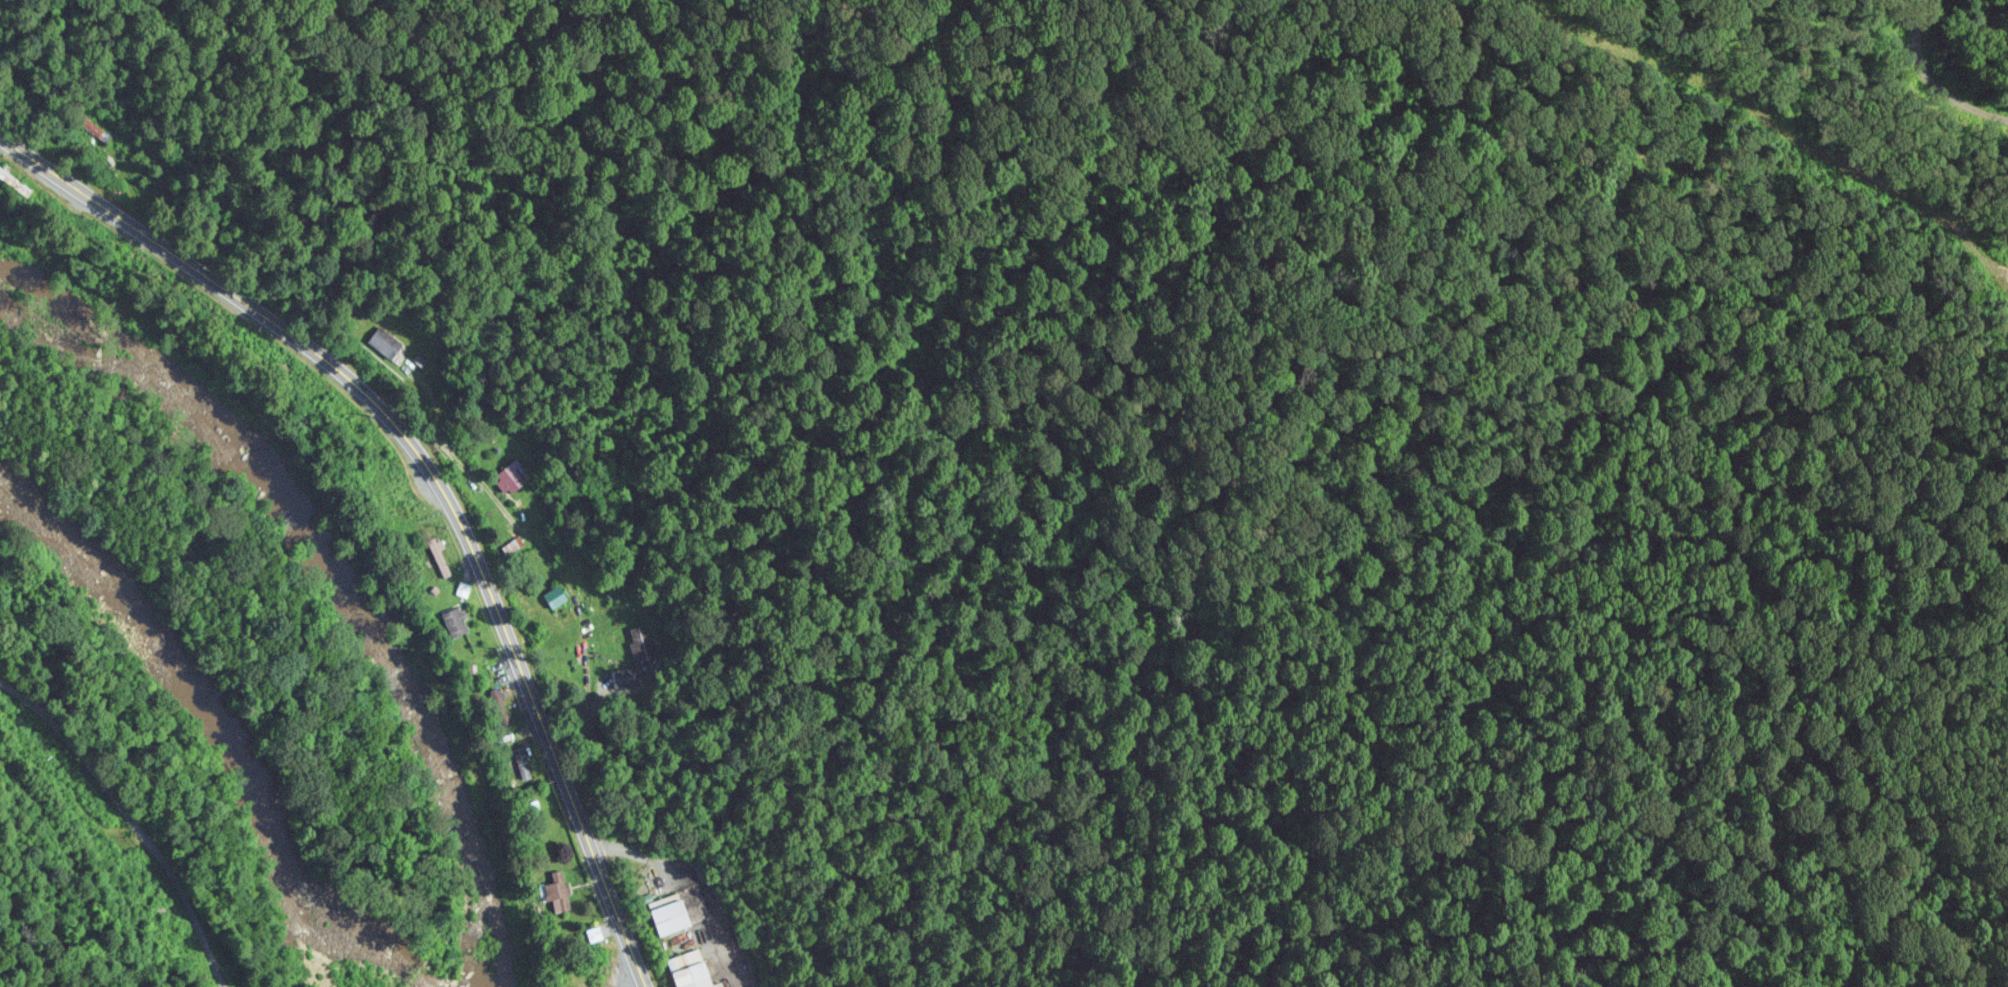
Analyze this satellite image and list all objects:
building: (98, 127)
building: (16, 179)
building: (389, 339)
road: (433, 471)
building: (514, 476)
road: (358, 552)
building: (442, 555)
building: (558, 594)
building: (459, 619)
building: (643, 640)
building: (624, 675)
river: (178, 742)
building: (523, 761)
road: (133, 819)
road: (690, 885)
building: (562, 888)
building: (673, 915)
building: (693, 968)
building: (585, 977)

